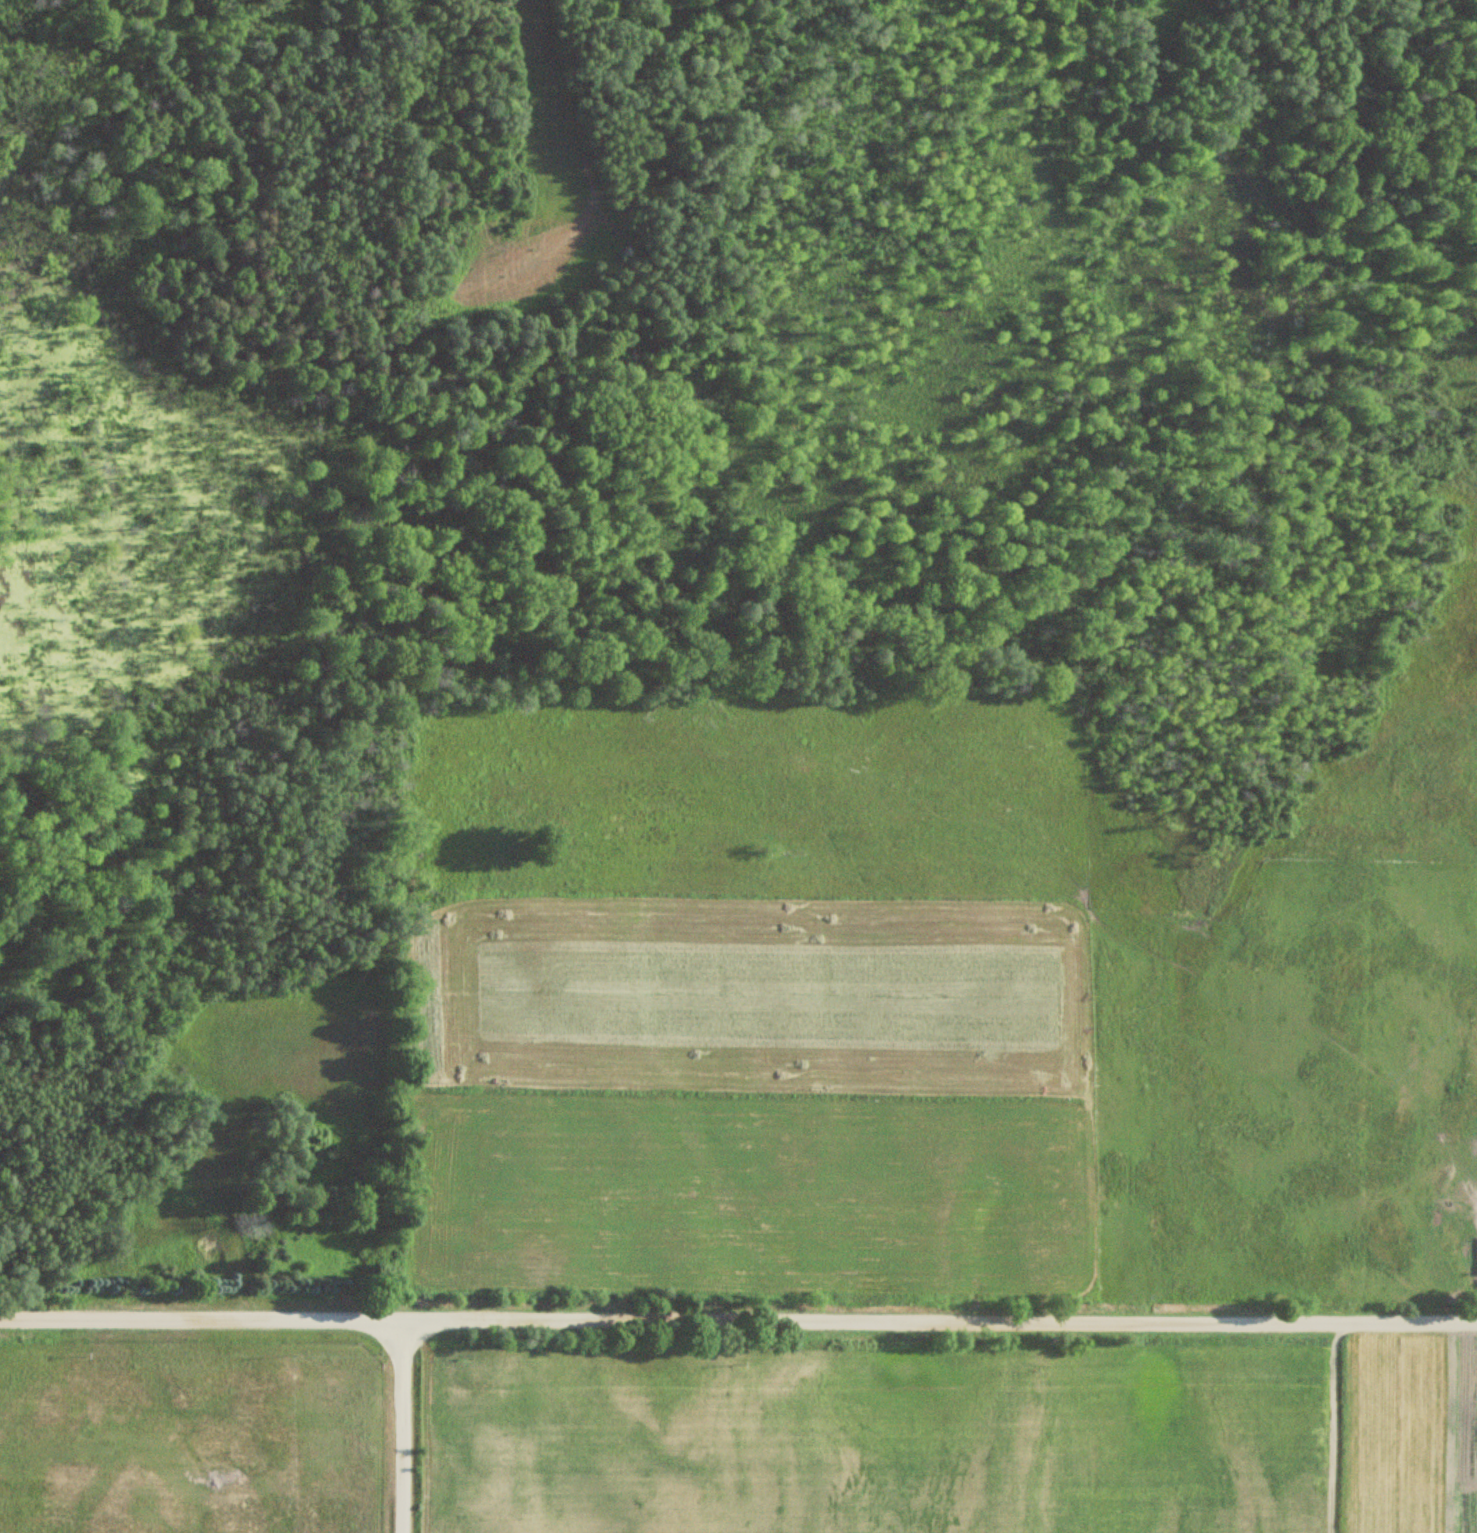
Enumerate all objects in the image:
road: (738, 1295)
road: (396, 1413)

